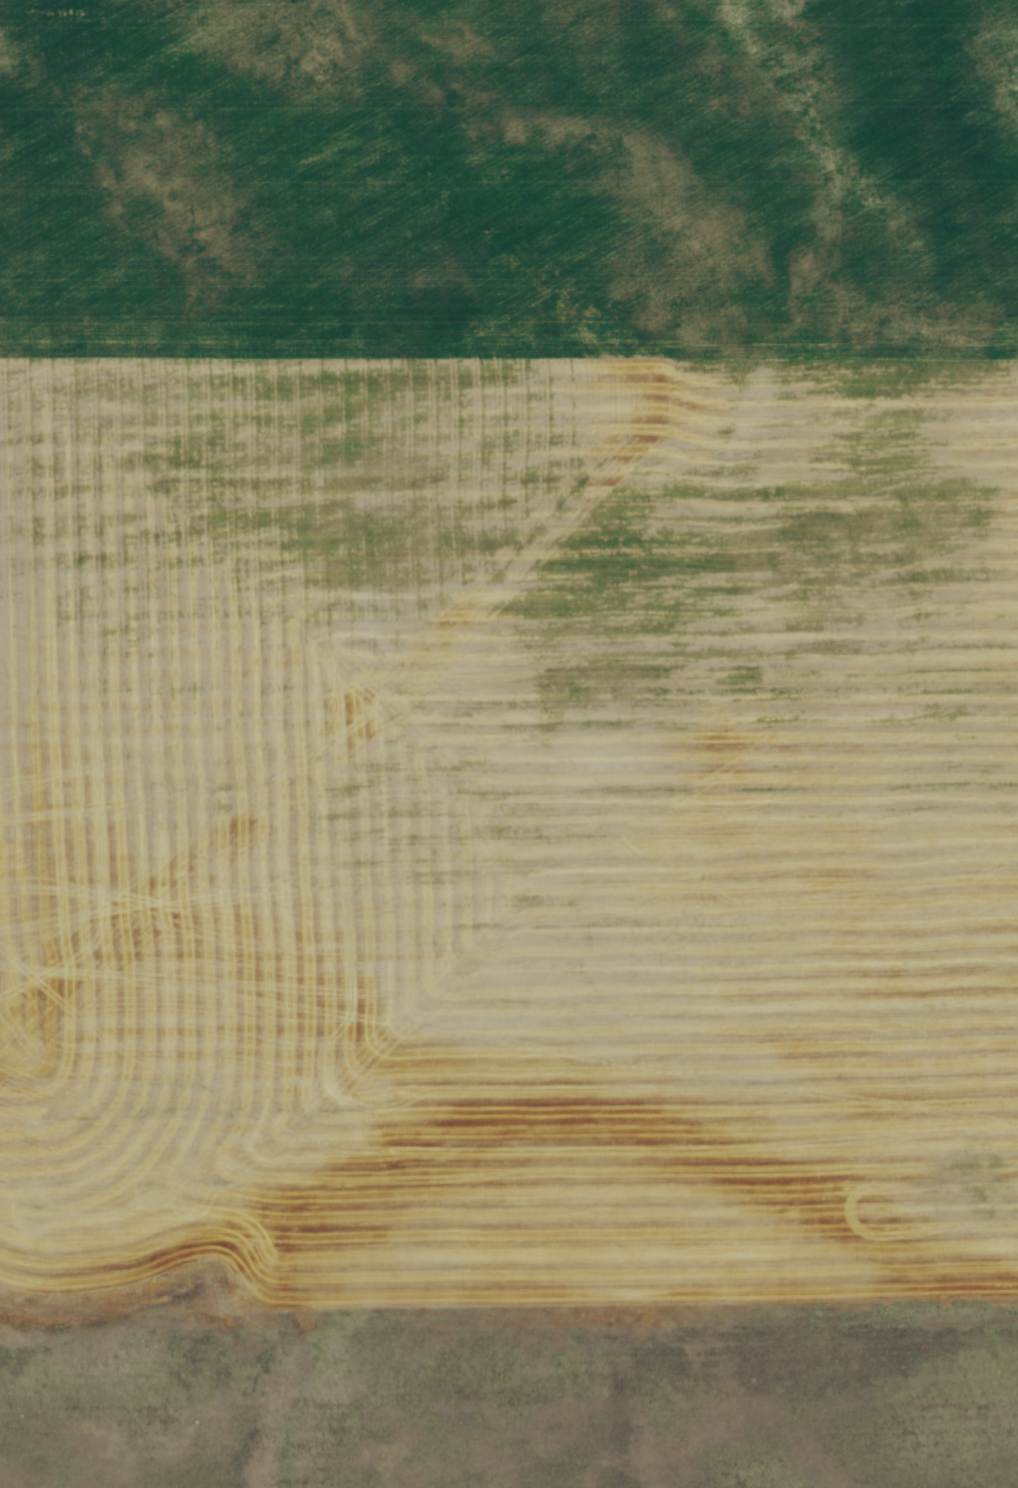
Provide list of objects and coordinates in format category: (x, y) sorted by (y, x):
crop: (508, 650)

